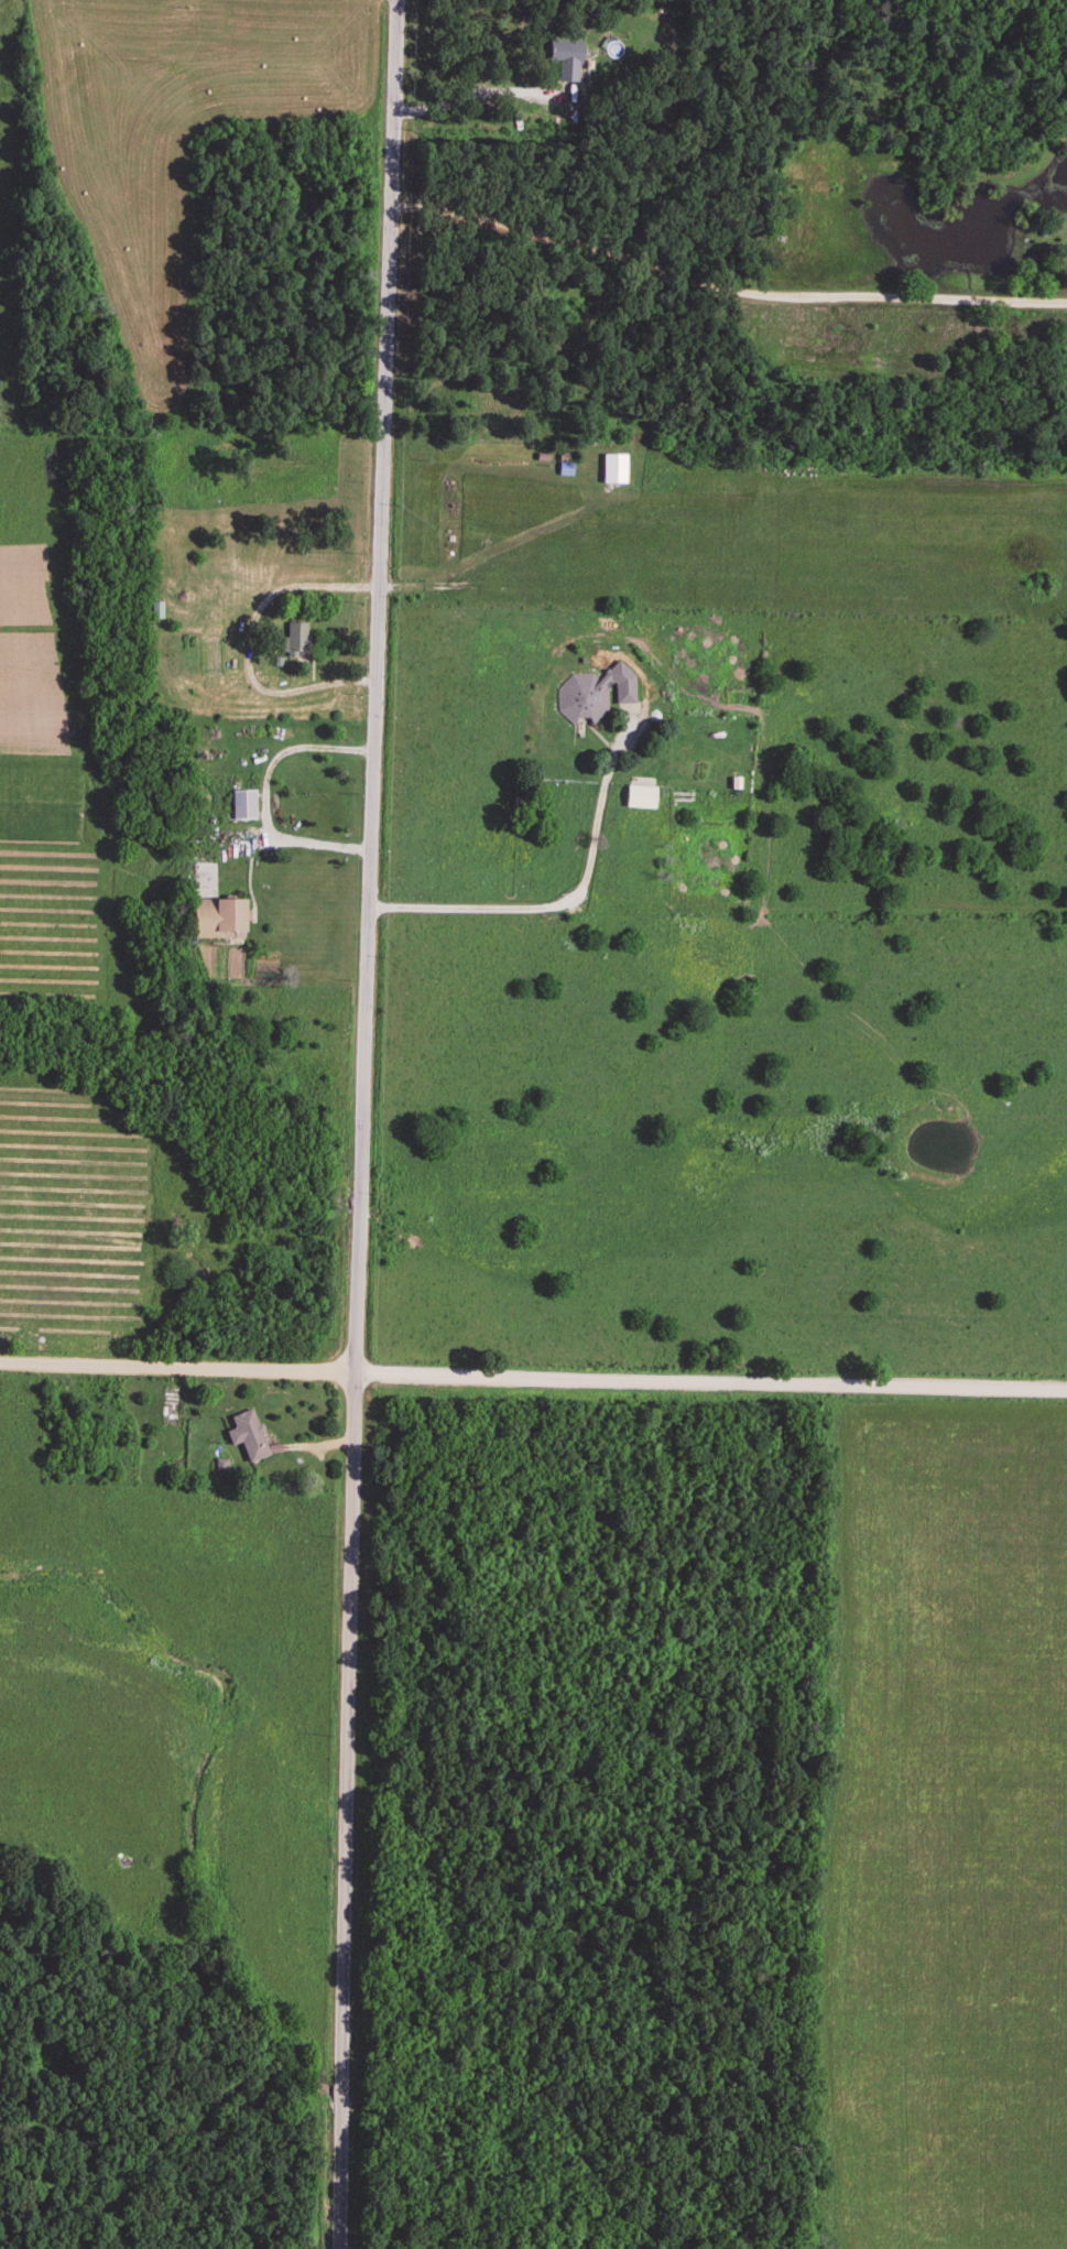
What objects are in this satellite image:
building: (565, 61)
road: (479, 91)
road: (722, 293)
building: (564, 465)
building: (612, 469)
building: (295, 641)
road: (244, 642)
building: (621, 683)
building: (581, 697)
road: (266, 795)
building: (241, 805)
road: (568, 899)
building: (227, 917)
road: (364, 1124)
road: (533, 1375)
building: (247, 1436)

